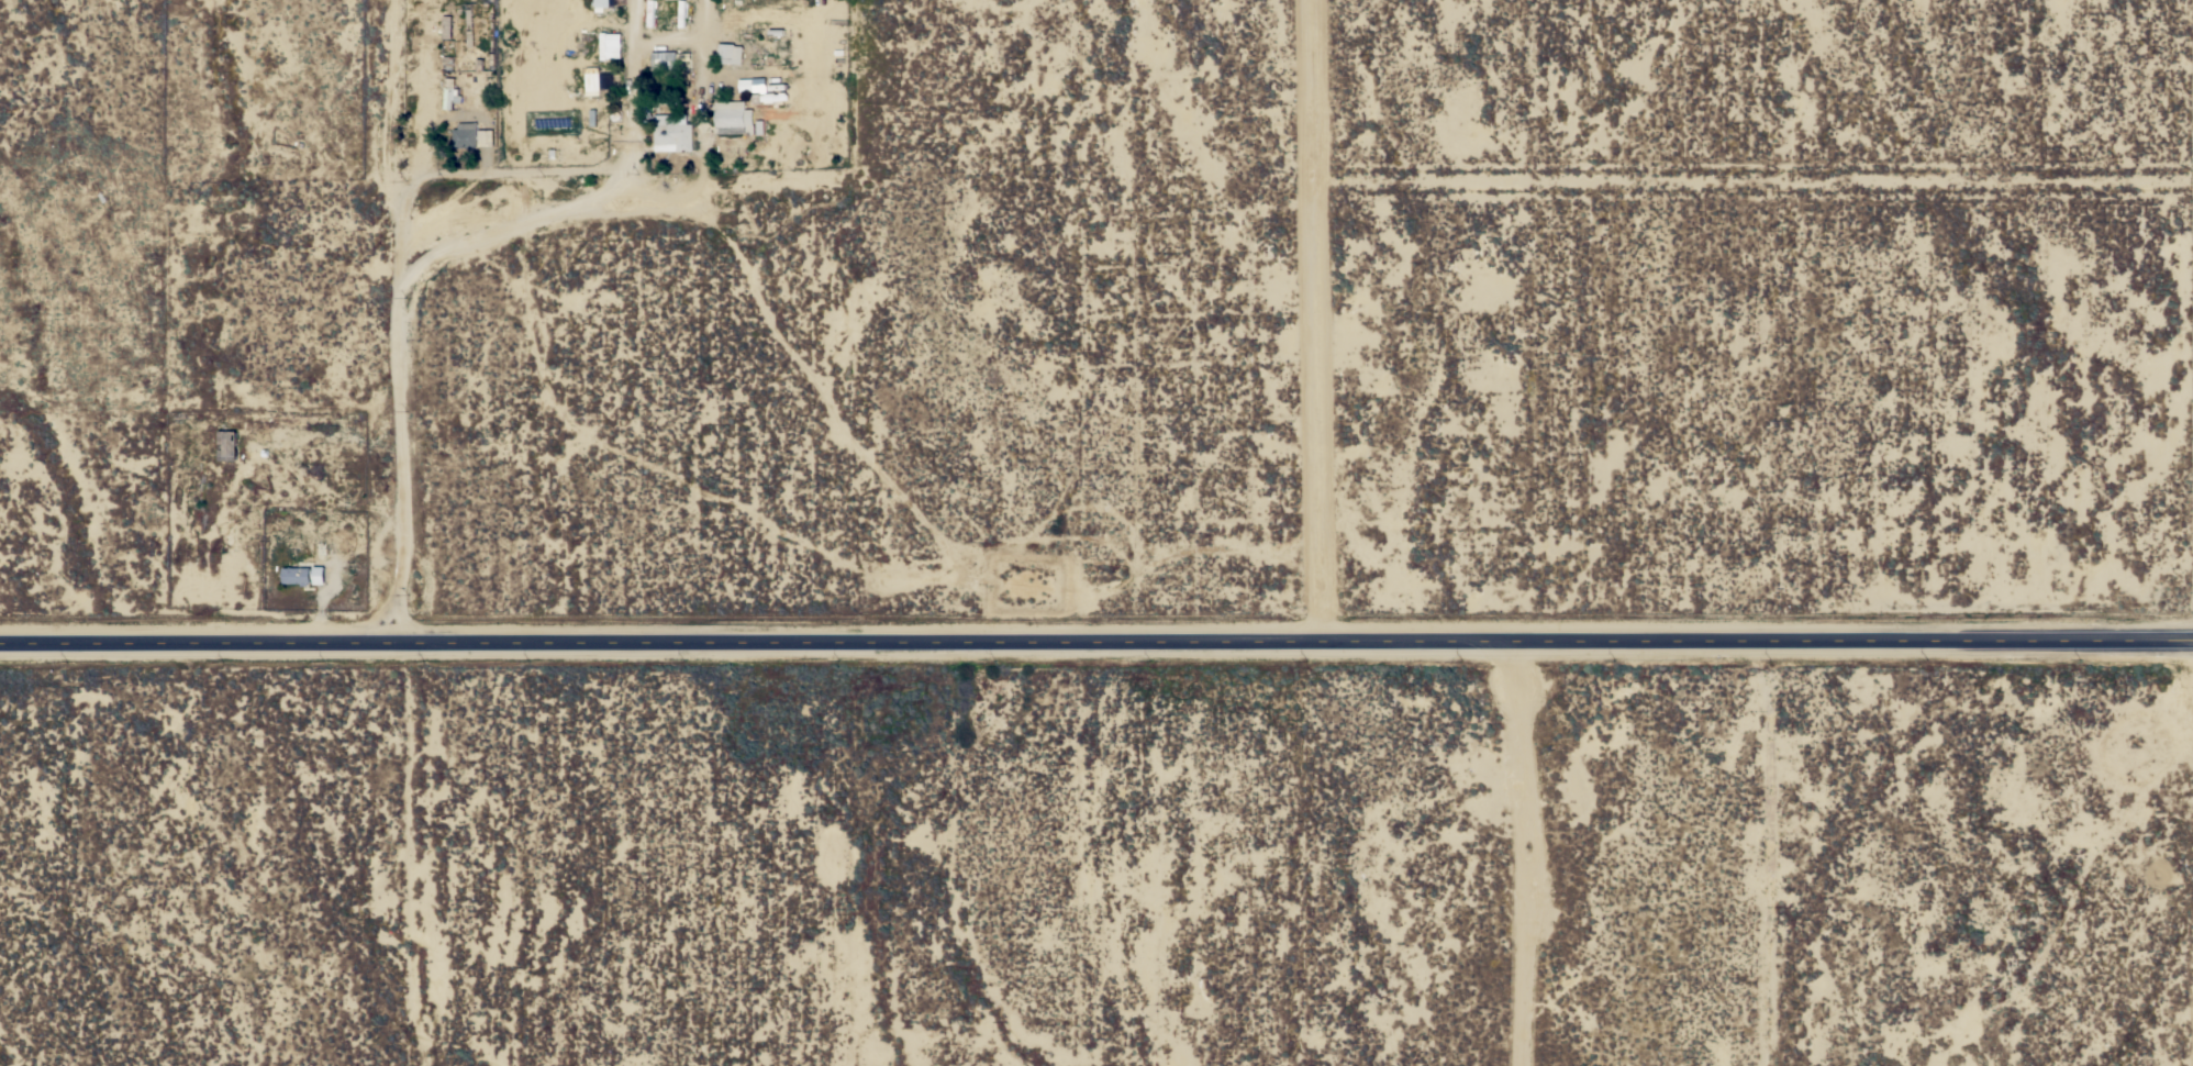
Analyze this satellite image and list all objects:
building: (601, 5)
building: (650, 13)
building: (681, 13)
building: (467, 24)
building: (447, 27)
building: (609, 46)
building: (730, 54)
building: (663, 59)
building: (591, 81)
building: (752, 85)
building: (449, 93)
building: (733, 118)
building: (672, 133)
building: (465, 135)
building: (485, 137)
road: (599, 193)
road: (1325, 314)
road: (402, 319)
building: (226, 445)
building: (297, 575)
building: (318, 577)
road: (1096, 632)
road: (1525, 848)

